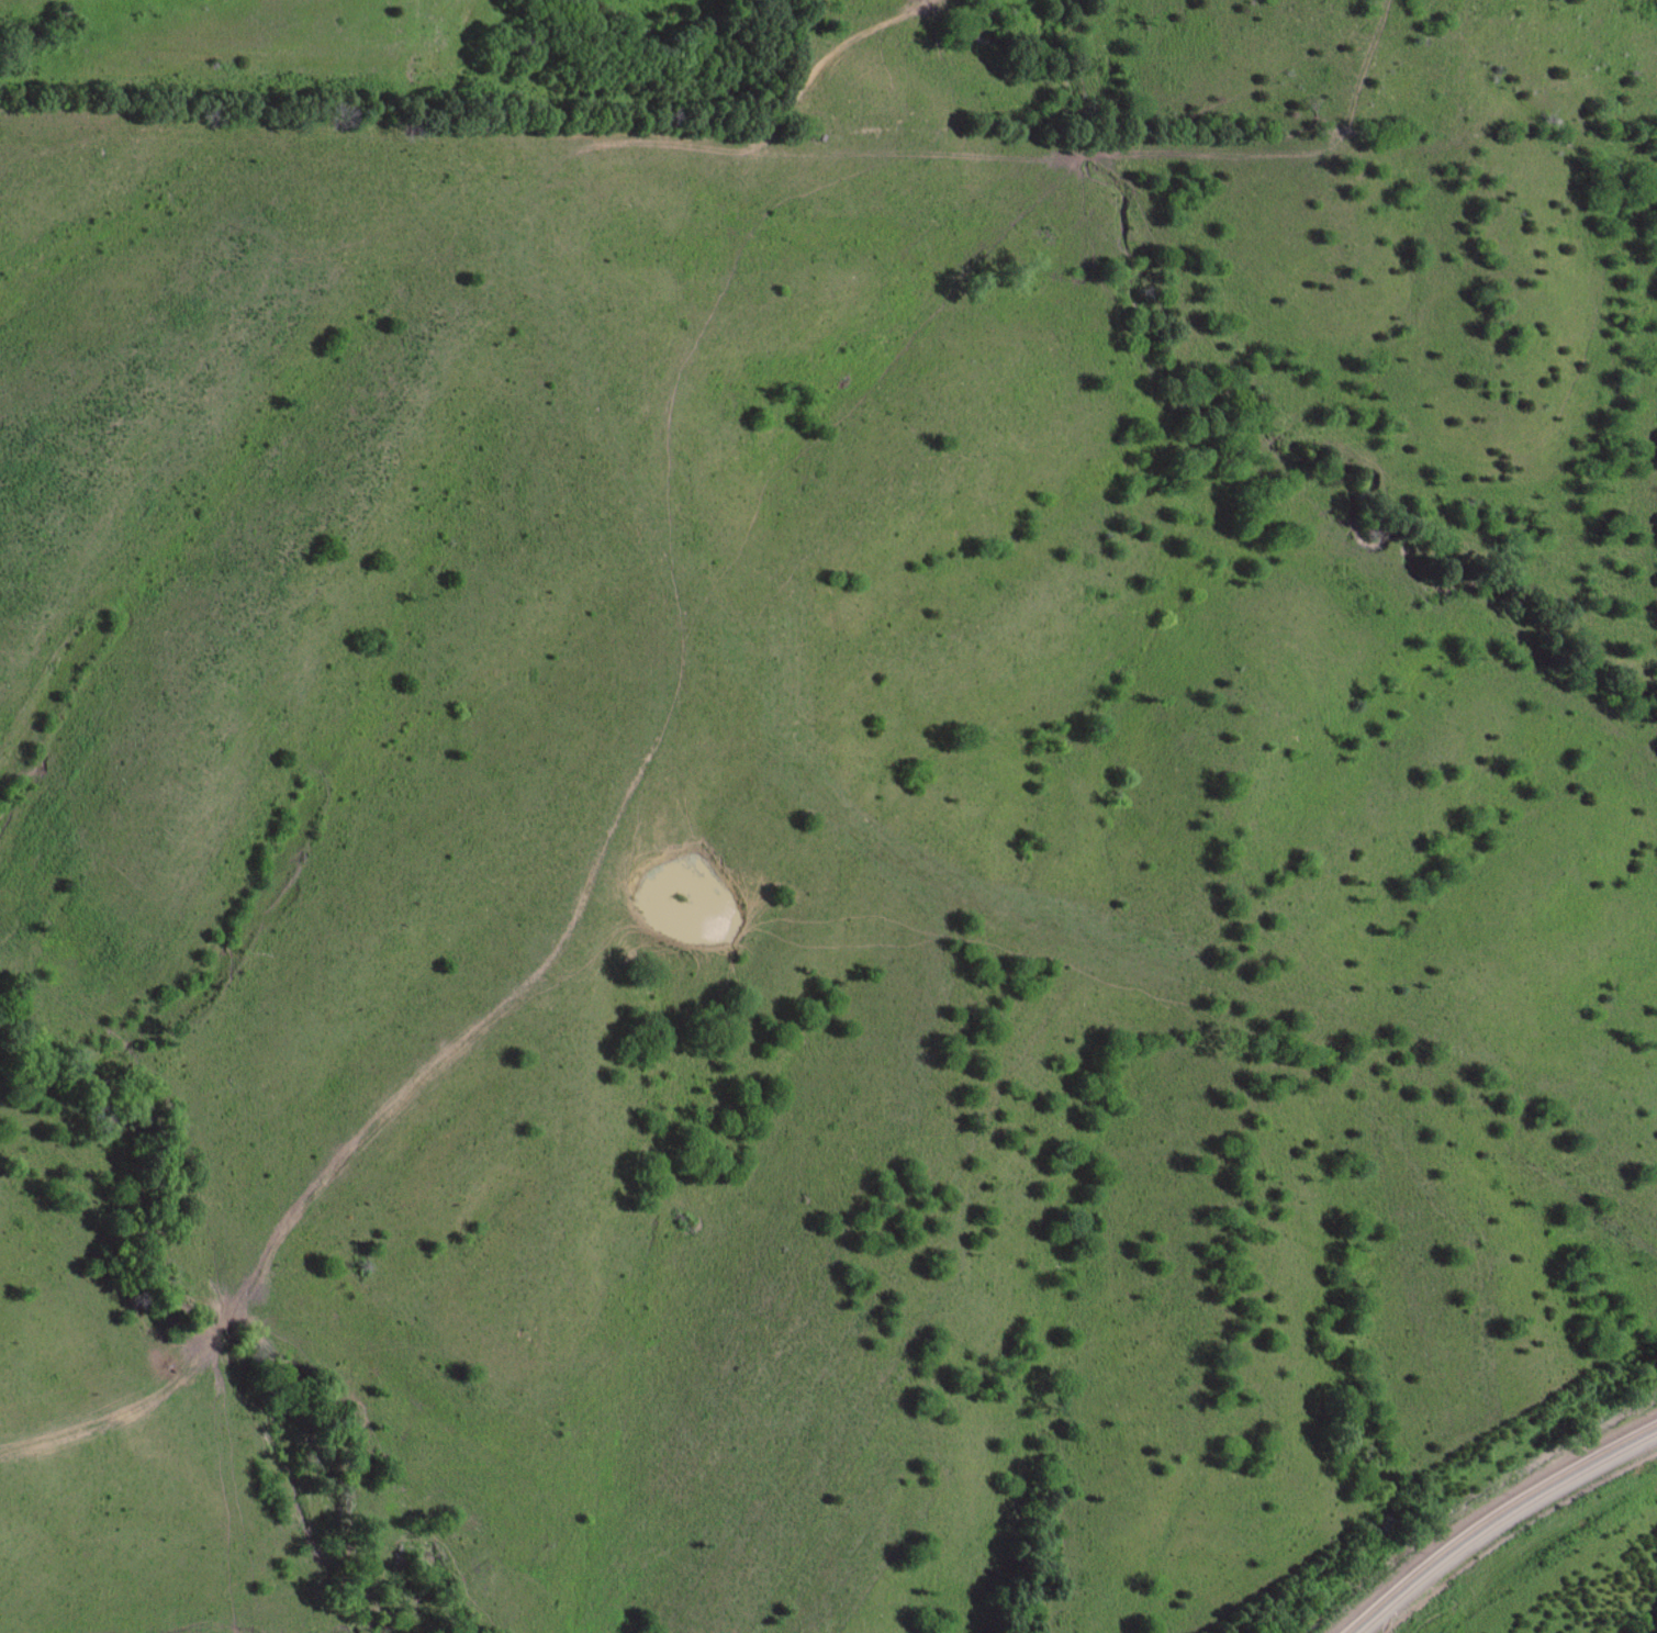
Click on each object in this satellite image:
railway: (1492, 1517)
railway: (1502, 1524)

